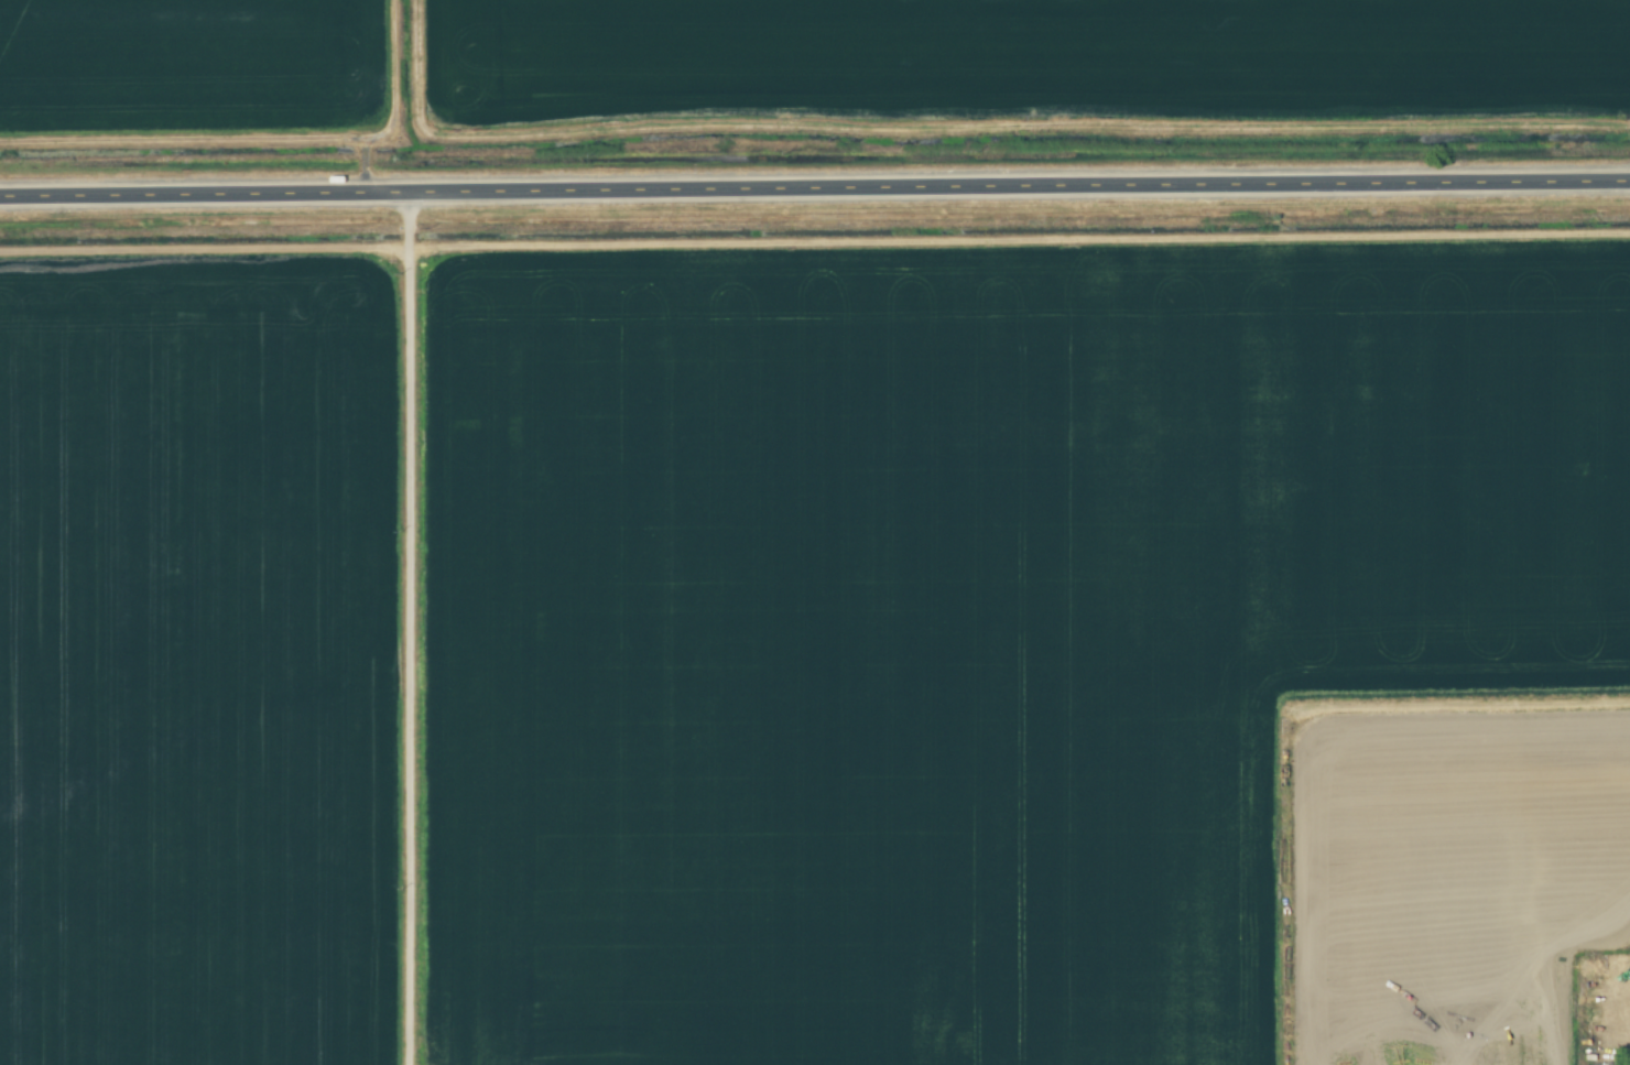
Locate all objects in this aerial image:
road: (814, 189)
road: (417, 629)

